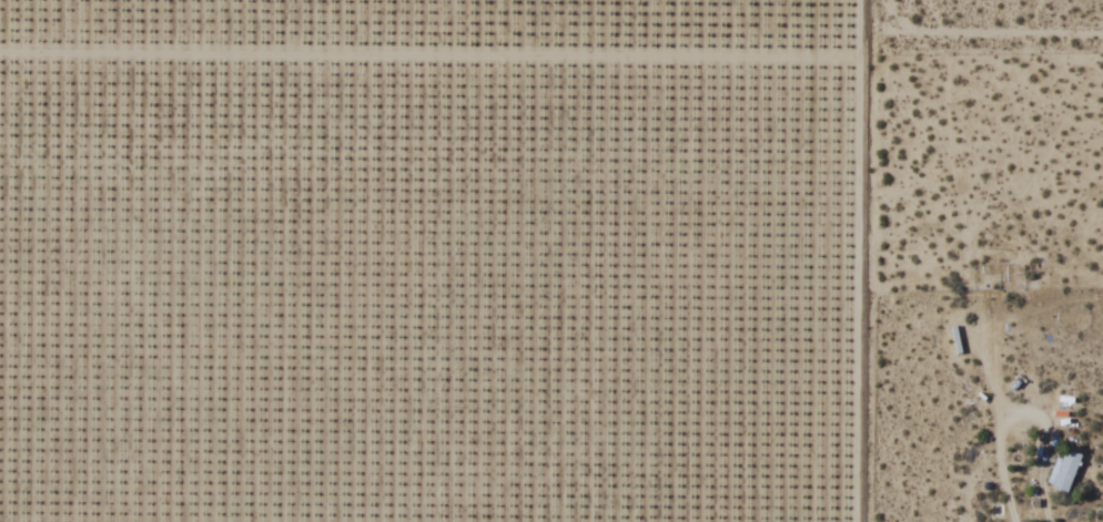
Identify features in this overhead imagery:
road: (971, 52)
road: (818, 259)
building: (1063, 470)

